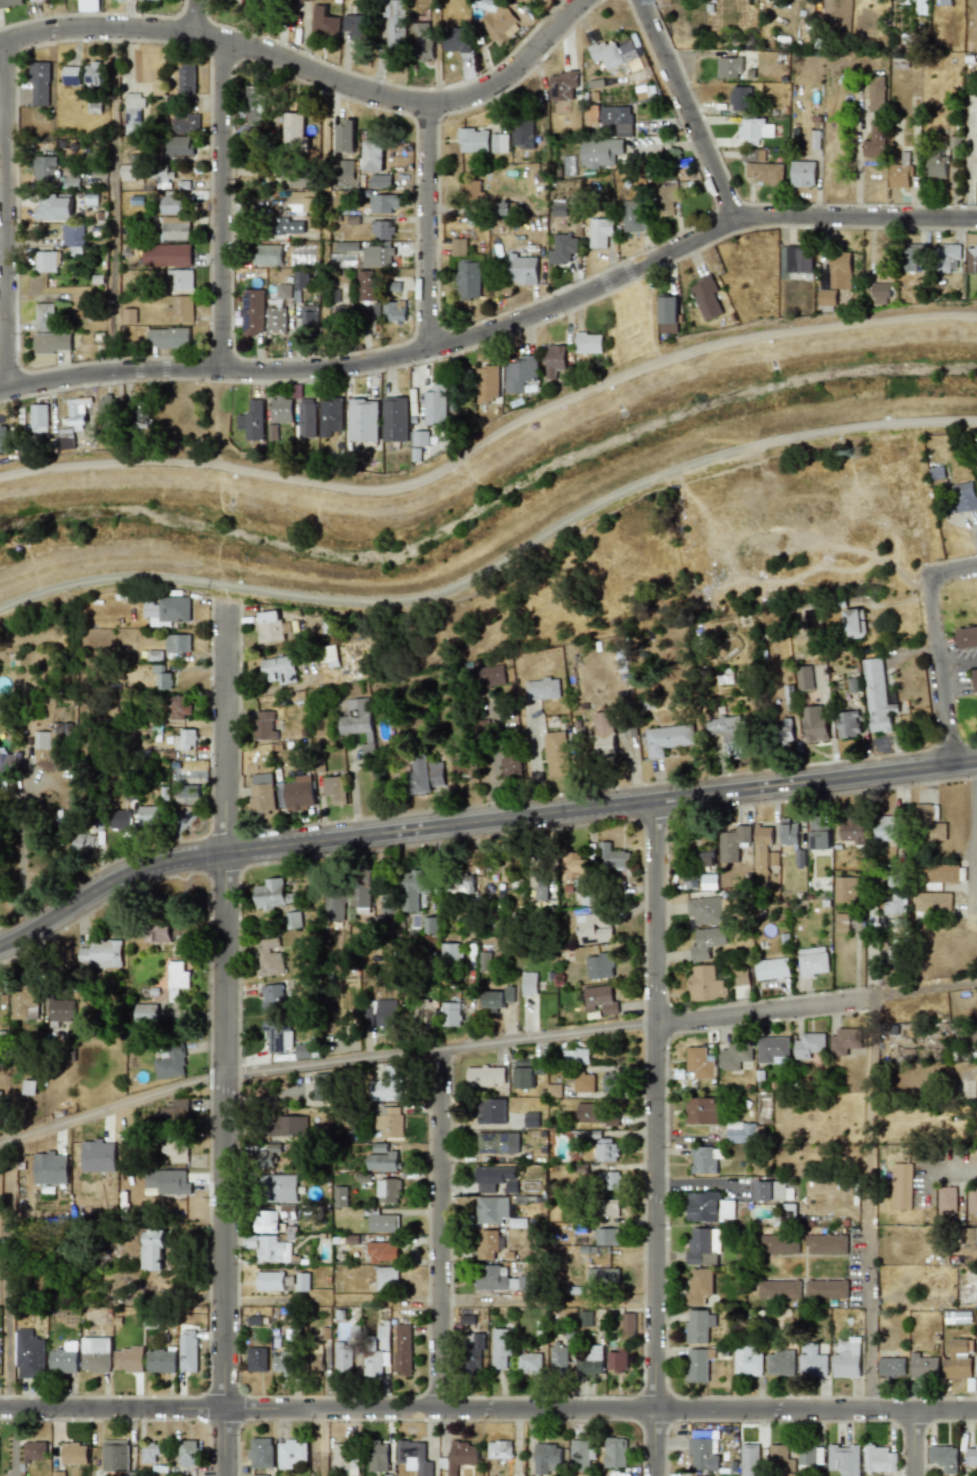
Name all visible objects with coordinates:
building: (29, 0)
building: (304, 0)
building: (9, 3)
road: (544, 6)
building: (323, 21)
building: (394, 23)
building: (498, 23)
building: (355, 27)
building: (455, 39)
building: (422, 42)
building: (613, 53)
road: (308, 55)
building: (729, 68)
building: (92, 73)
building: (71, 76)
building: (186, 80)
building: (39, 83)
building: (562, 86)
building: (875, 92)
building: (739, 98)
building: (253, 104)
road: (684, 112)
building: (133, 113)
building: (618, 119)
building: (185, 123)
building: (294, 129)
building: (754, 130)
building: (522, 133)
building: (345, 137)
building: (473, 140)
building: (874, 142)
building: (499, 143)
building: (179, 146)
building: (601, 152)
building: (752, 154)
building: (372, 155)
building: (974, 157)
building: (936, 166)
building: (46, 169)
building: (345, 170)
building: (765, 172)
building: (899, 173)
building: (803, 174)
building: (379, 180)
road: (545, 180)
building: (71, 182)
building: (301, 182)
road: (223, 183)
building: (471, 190)
road: (114, 198)
building: (664, 200)
building: (301, 201)
building: (174, 203)
building: (383, 203)
building: (54, 208)
road: (11, 214)
road: (327, 214)
building: (559, 214)
building: (632, 216)
road: (432, 221)
building: (287, 227)
building: (176, 228)
building: (382, 230)
building: (600, 232)
building: (73, 238)
building: (347, 246)
building: (458, 247)
building: (562, 249)
building: (378, 254)
building: (166, 255)
building: (267, 255)
building: (912, 256)
building: (947, 257)
building: (342, 259)
building: (971, 259)
building: (798, 263)
building: (522, 270)
building: (839, 270)
building: (183, 279)
building: (302, 280)
building: (468, 281)
building: (366, 286)
building: (283, 290)
building: (880, 293)
building: (705, 297)
building: (832, 297)
building: (181, 309)
building: (668, 310)
building: (252, 312)
building: (394, 312)
building: (128, 315)
building: (308, 315)
building: (44, 316)
building: (275, 320)
road: (497, 330)
building: (169, 337)
building: (52, 343)
building: (588, 343)
building: (554, 360)
building: (520, 373)
building: (487, 384)
building: (105, 408)
building: (76, 411)
building: (138, 415)
building: (279, 415)
building: (329, 416)
building: (306, 418)
building: (38, 419)
building: (395, 420)
building: (431, 420)
building: (251, 421)
building: (363, 421)
road: (490, 436)
building: (65, 438)
building: (2, 440)
power tower: (862, 455)
building: (964, 497)
road: (497, 565)
road: (951, 568)
building: (166, 610)
building: (854, 623)
building: (318, 625)
building: (272, 627)
building: (967, 637)
building: (177, 642)
building: (327, 655)
road: (937, 669)
building: (278, 670)
building: (489, 676)
building: (804, 678)
building: (975, 678)
building: (163, 680)
building: (542, 689)
building: (877, 697)
building: (178, 706)
building: (358, 723)
building: (814, 723)
building: (847, 724)
building: (264, 726)
building: (783, 730)
building: (728, 733)
building: (604, 735)
building: (185, 739)
building: (667, 739)
building: (41, 740)
building: (52, 750)
building: (556, 754)
road: (493, 761)
building: (9, 762)
building: (511, 769)
building: (425, 775)
building: (334, 789)
building: (190, 791)
building: (261, 792)
building: (295, 793)
building: (148, 814)
road: (477, 816)
building: (119, 820)
building: (930, 822)
building: (886, 828)
building: (852, 829)
building: (788, 834)
building: (819, 835)
building: (87, 838)
road: (973, 838)
building: (733, 843)
building: (763, 853)
building: (613, 858)
building: (572, 866)
building: (940, 873)
building: (538, 882)
building: (462, 883)
building: (361, 889)
building: (414, 889)
building: (846, 889)
building: (273, 894)
building: (932, 903)
building: (894, 906)
building: (334, 907)
building: (705, 910)
building: (293, 920)
building: (841, 923)
building: (431, 925)
building: (593, 928)
building: (164, 931)
building: (706, 942)
building: (452, 953)
building: (101, 954)
building: (269, 957)
building: (484, 961)
building: (813, 961)
road: (870, 961)
building: (599, 966)
building: (772, 968)
building: (742, 976)
building: (176, 979)
building: (529, 983)
building: (704, 984)
building: (272, 997)
building: (498, 998)
building: (599, 999)
building: (23, 1001)
building: (60, 1011)
building: (379, 1013)
building: (450, 1014)
road: (225, 1029)
building: (277, 1036)
building: (844, 1041)
building: (808, 1044)
road: (484, 1046)
building: (772, 1050)
building: (306, 1051)
building: (734, 1054)
building: (575, 1056)
building: (699, 1062)
building: (170, 1063)
building: (526, 1072)
building: (485, 1076)
building: (583, 1082)
building: (611, 1084)
building: (387, 1085)
building: (322, 1086)
building: (29, 1087)
building: (553, 1090)
building: (177, 1110)
building: (701, 1110)
building: (491, 1111)
building: (595, 1114)
building: (531, 1119)
building: (389, 1121)
building: (286, 1126)
building: (741, 1132)
road: (658, 1136)
building: (497, 1142)
building: (606, 1149)
building: (97, 1156)
building: (265, 1159)
building: (381, 1159)
building: (703, 1160)
building: (49, 1168)
road: (952, 1171)
building: (495, 1179)
building: (611, 1180)
building: (168, 1182)
building: (901, 1186)
building: (281, 1188)
building: (388, 1190)
building: (769, 1190)
building: (339, 1196)
building: (946, 1200)
building: (971, 1200)
road: (874, 1205)
building: (708, 1207)
building: (609, 1208)
building: (492, 1209)
building: (287, 1211)
building: (787, 1213)
building: (266, 1221)
building: (517, 1222)
building: (383, 1223)
road: (443, 1230)
building: (606, 1236)
building: (488, 1243)
building: (779, 1244)
building: (827, 1244)
building: (703, 1246)
building: (268, 1248)
building: (153, 1250)
building: (382, 1252)
road: (10, 1276)
building: (386, 1277)
building: (602, 1277)
building: (500, 1279)
building: (270, 1281)
building: (302, 1281)
building: (699, 1286)
building: (779, 1289)
building: (826, 1289)
road: (442, 1302)
building: (957, 1317)
building: (585, 1319)
building: (627, 1325)
building: (699, 1326)
building: (381, 1337)
building: (500, 1347)
building: (402, 1350)
building: (187, 1352)
building: (29, 1354)
building: (95, 1354)
building: (472, 1354)
building: (342, 1358)
building: (559, 1358)
building: (847, 1358)
building: (128, 1359)
building: (257, 1359)
building: (747, 1359)
building: (958, 1359)
building: (617, 1360)
building: (812, 1360)
building: (62, 1361)
building: (161, 1361)
building: (314, 1361)
building: (591, 1361)
building: (374, 1362)
building: (283, 1363)
building: (529, 1363)
building: (780, 1363)
building: (698, 1364)
building: (891, 1366)
building: (923, 1366)
building: (976, 1369)
road: (488, 1411)
road: (913, 1444)
building: (499, 1449)
building: (701, 1450)
building: (34, 1451)
building: (149, 1452)
building: (615, 1452)
building: (74, 1453)
building: (187, 1453)
building: (261, 1453)
building: (291, 1453)
building: (461, 1455)
building: (115, 1456)
building: (579, 1456)
building: (807, 1456)
building: (971, 1456)
building: (378, 1457)
building: (413, 1457)
building: (344, 1458)
building: (546, 1458)
building: (944, 1458)
building: (780, 1459)
building: (844, 1459)
building: (879, 1459)
building: (749, 1460)
building: (57, 1473)
building: (790, 1474)
building: (260, 1475)

